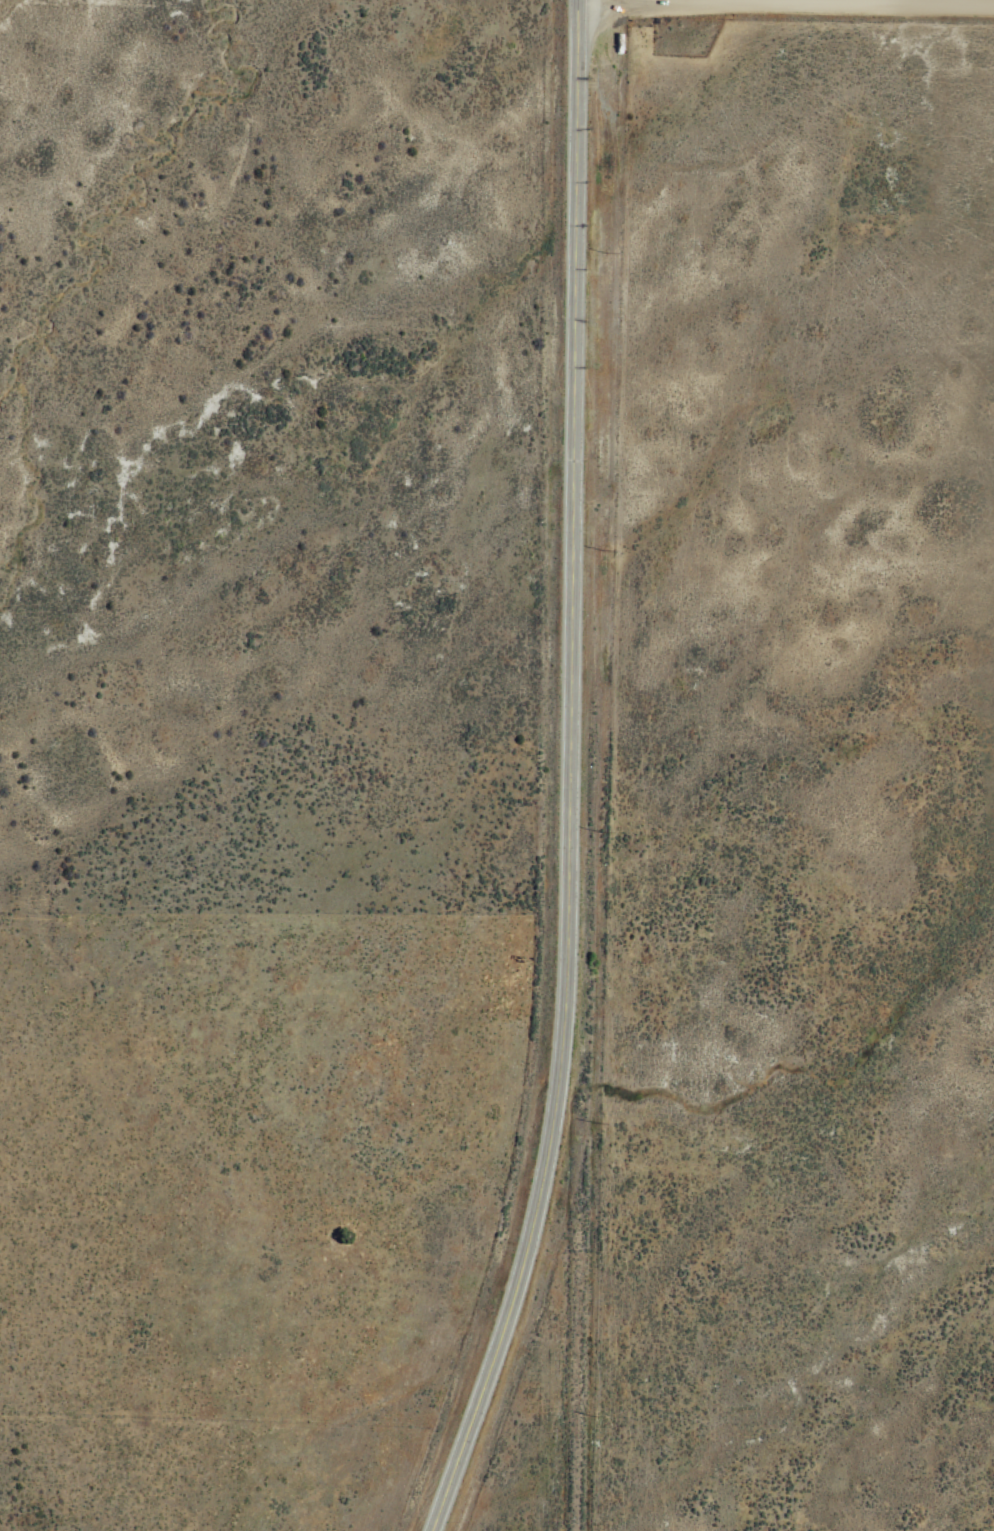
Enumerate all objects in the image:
road: (783, 39)
crop: (497, 765)
road: (566, 773)

